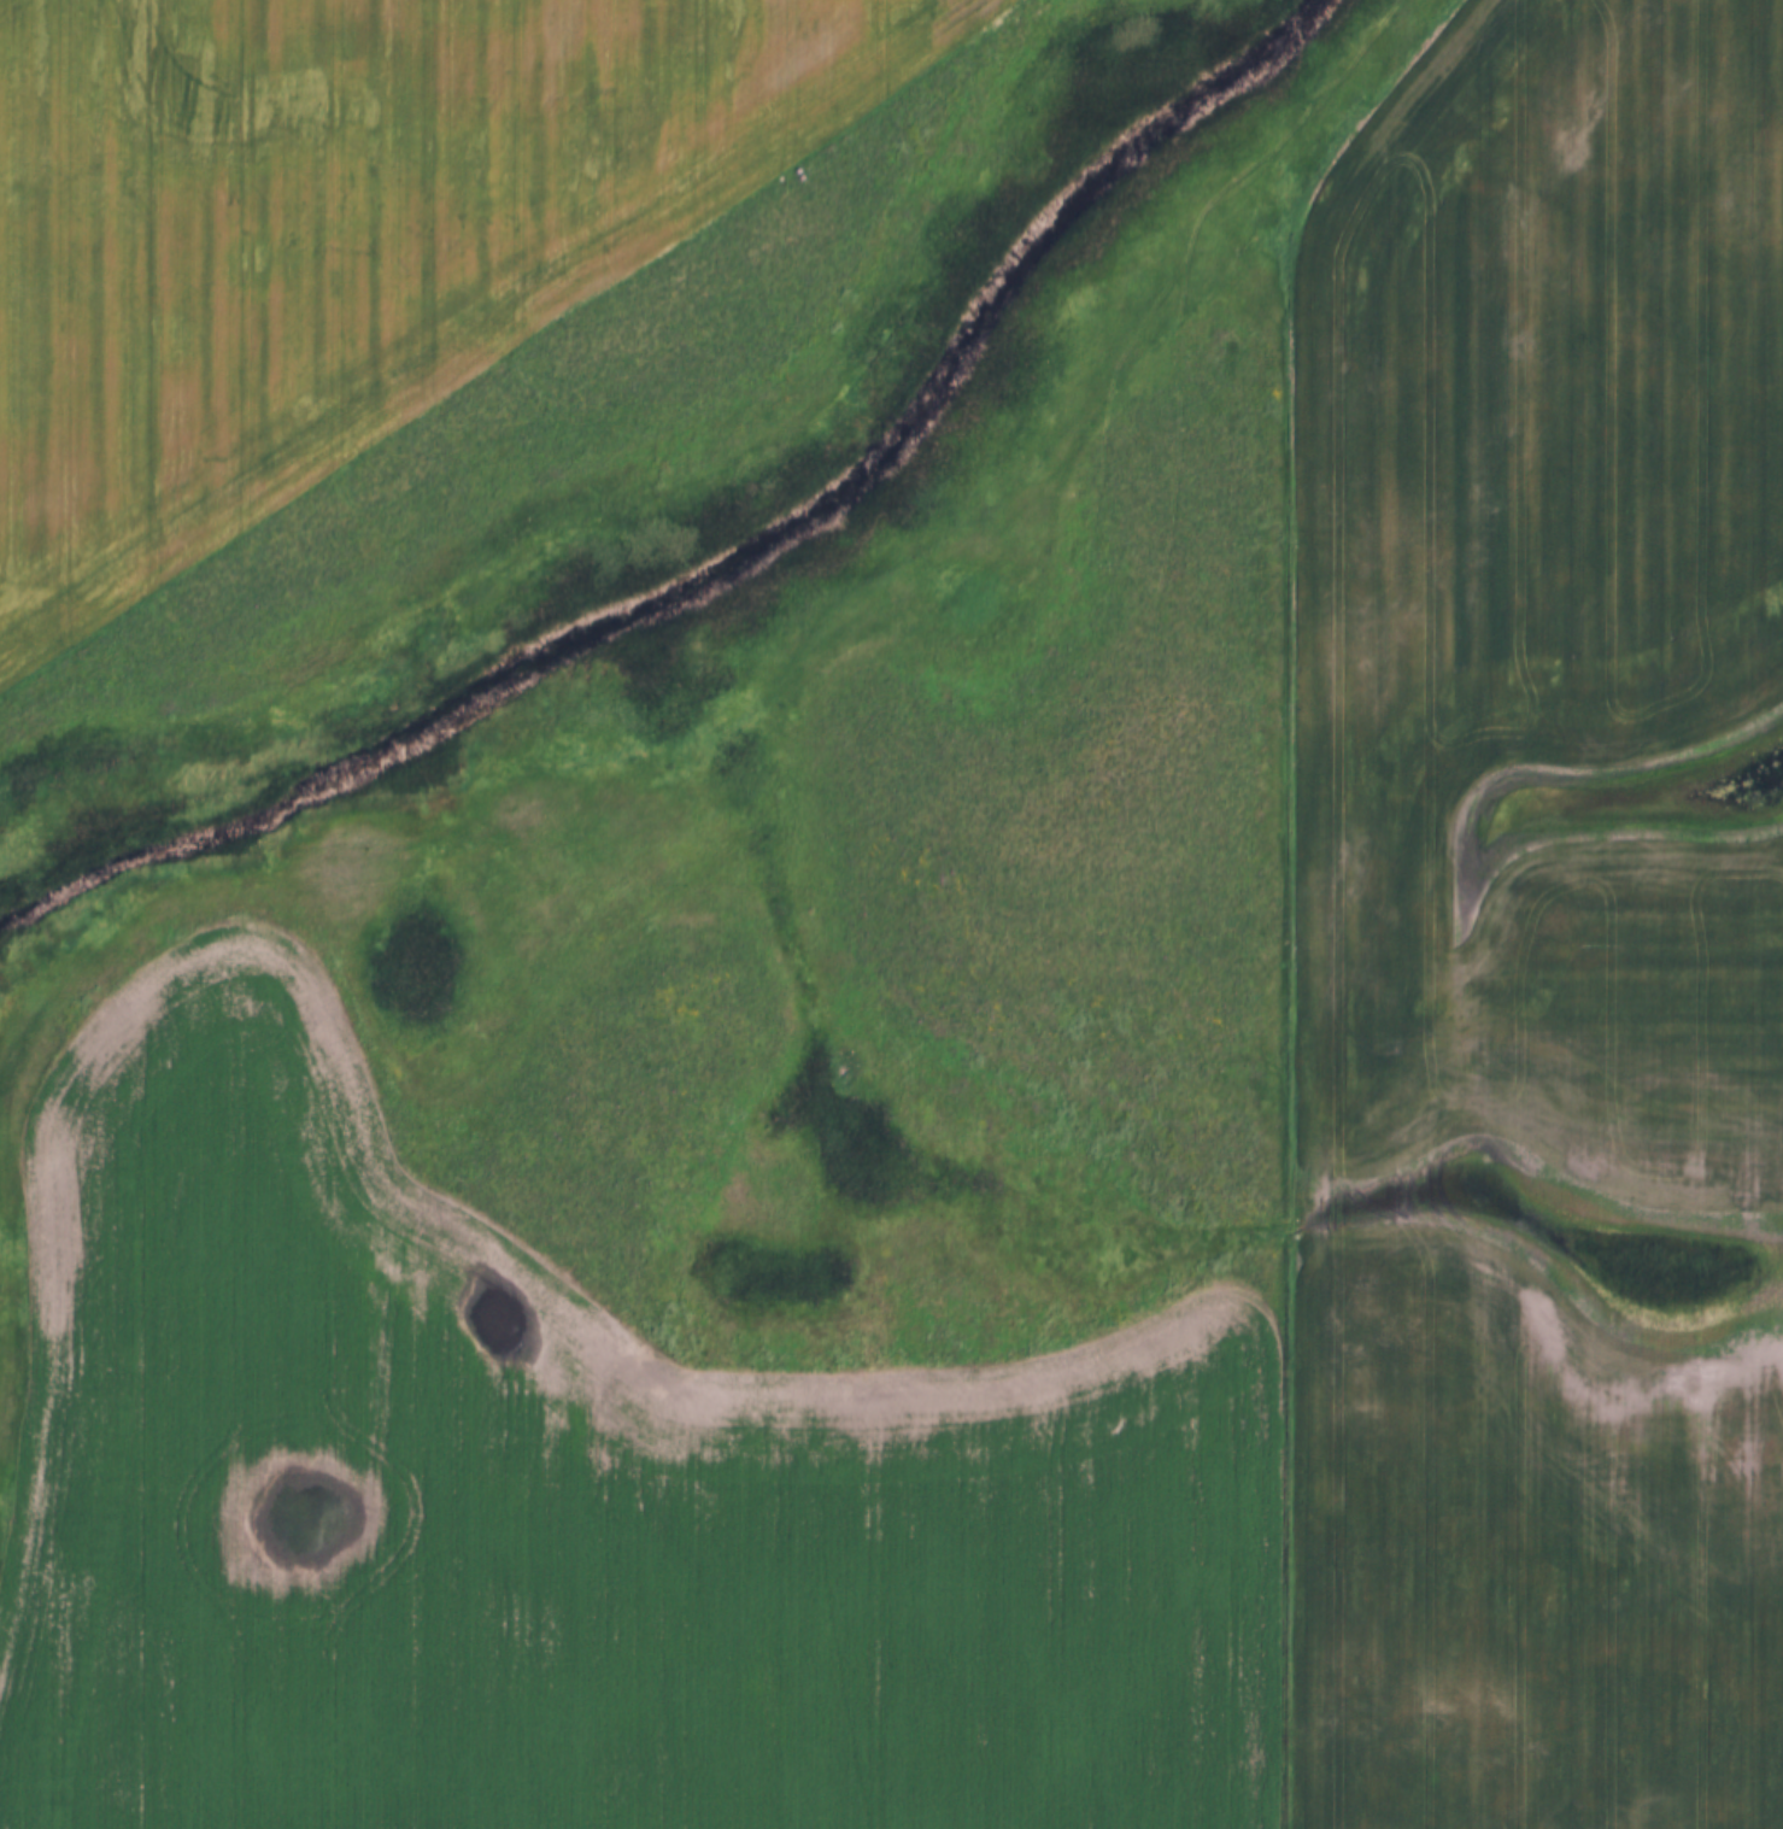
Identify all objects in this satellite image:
road: (37, 1377)

